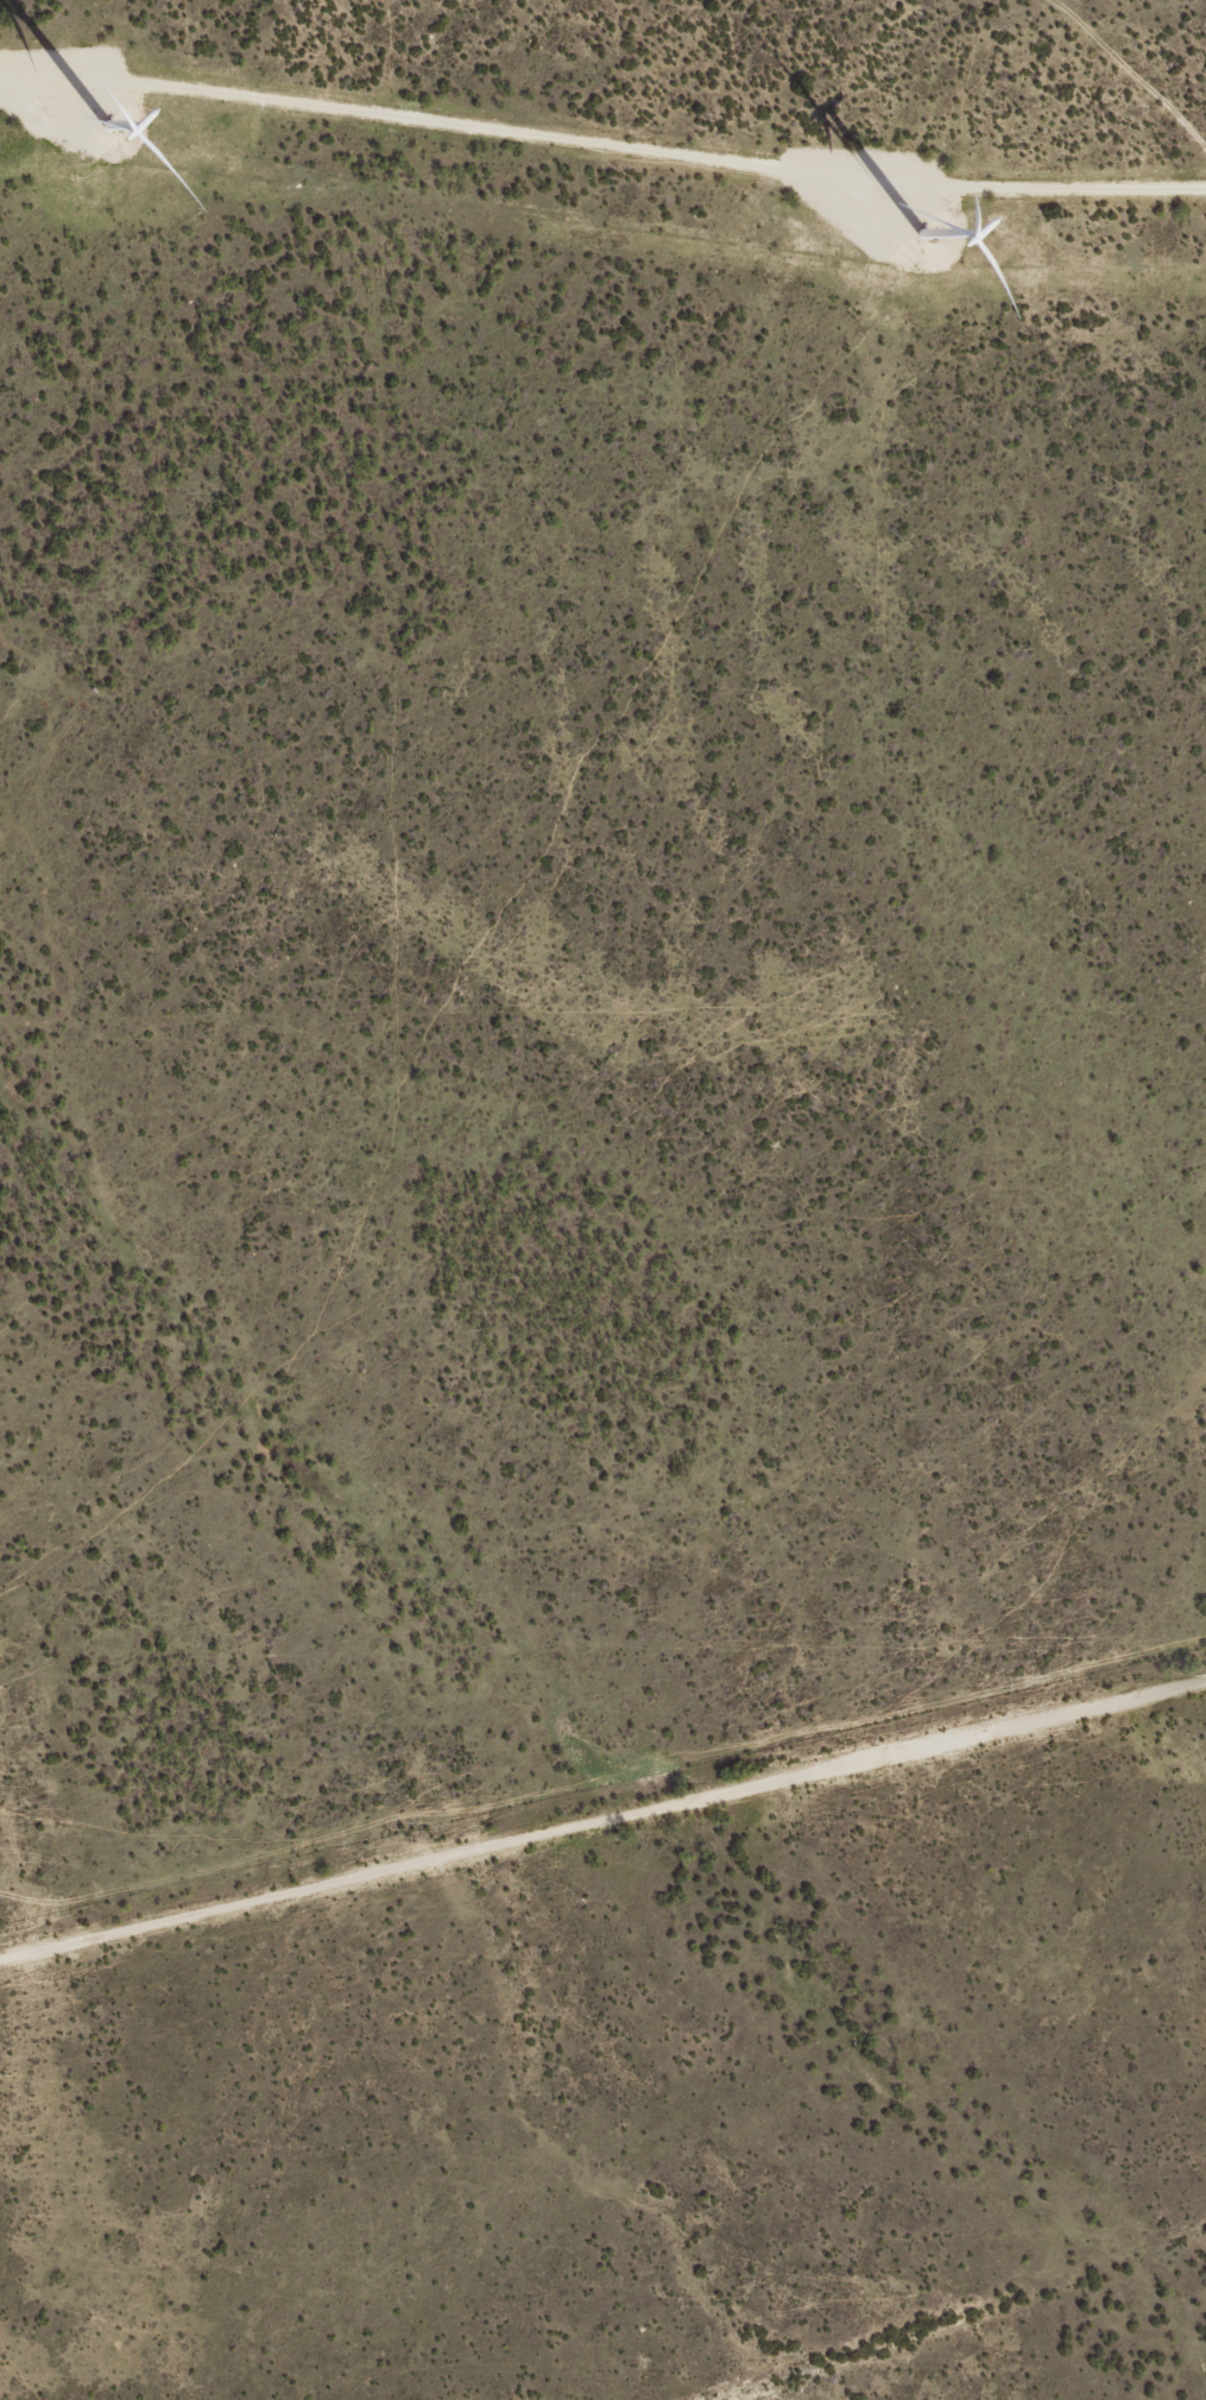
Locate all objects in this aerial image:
road: (1111, 93)
wind turbine: (95, 151)
wind turbine: (933, 225)
road: (602, 1842)

